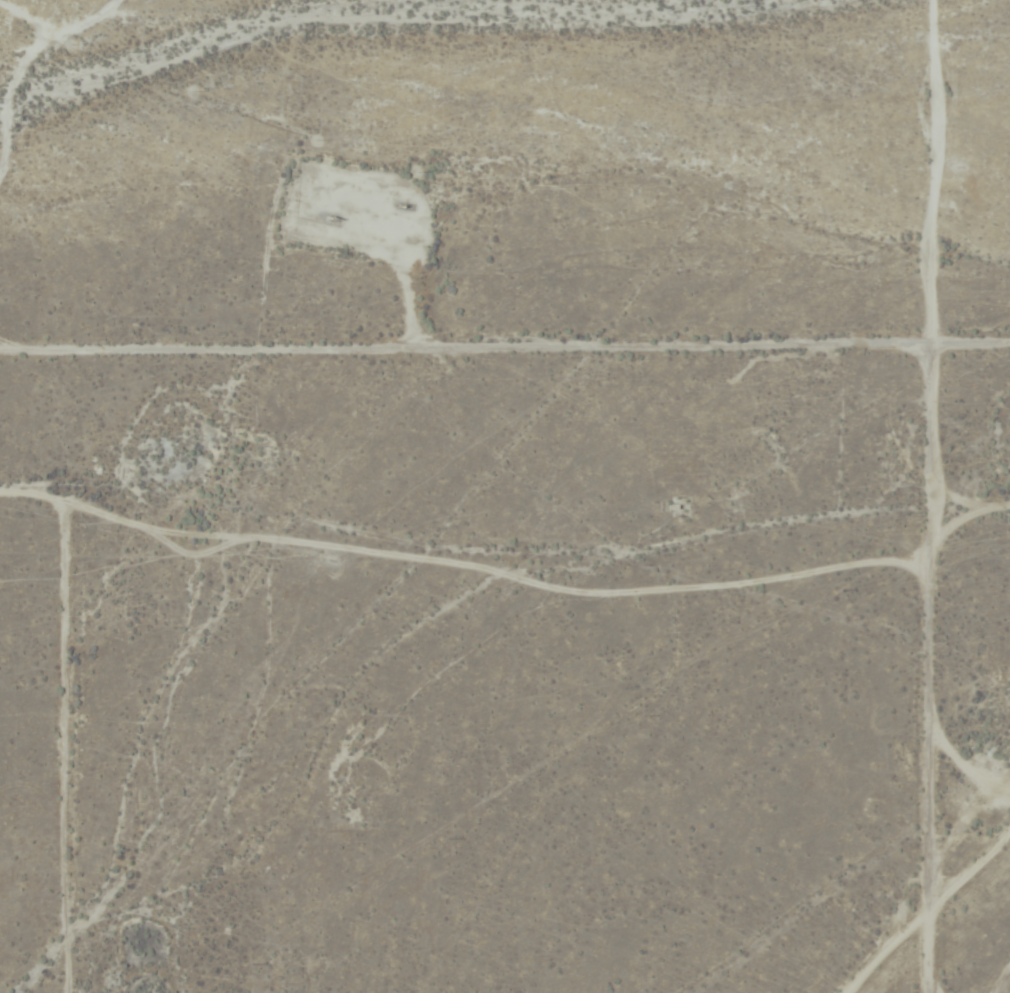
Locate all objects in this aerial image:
crop: (925, 174)
road: (505, 380)
road: (923, 496)
road: (941, 925)

